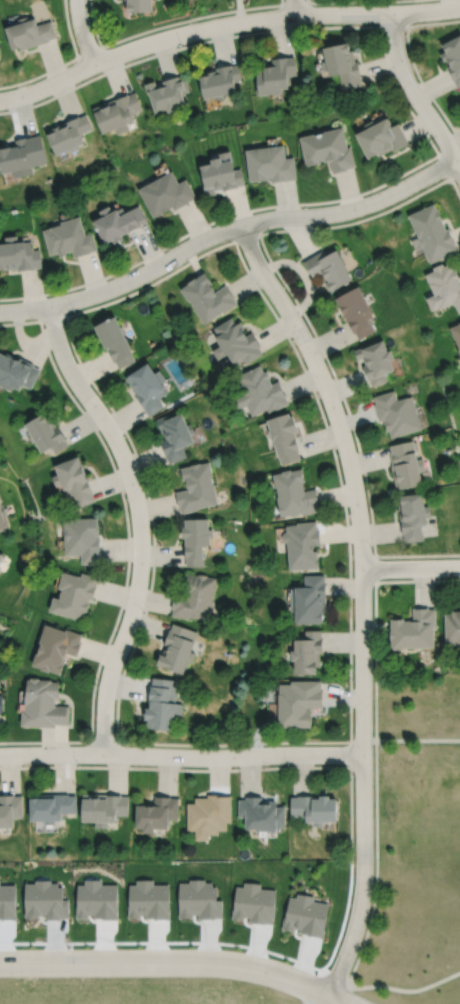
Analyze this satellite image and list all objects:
building: (138, 5)
road: (294, 7)
road: (192, 18)
road: (223, 24)
building: (29, 31)
road: (82, 32)
road: (224, 37)
building: (452, 55)
building: (343, 62)
building: (276, 74)
building: (221, 79)
road: (425, 86)
building: (168, 92)
road: (414, 94)
building: (117, 111)
road: (412, 113)
building: (69, 133)
building: (383, 135)
building: (328, 148)
building: (22, 155)
building: (270, 163)
building: (222, 172)
building: (166, 192)
road: (216, 219)
building: (118, 221)
road: (226, 230)
building: (432, 231)
building: (69, 237)
road: (223, 244)
building: (19, 254)
building: (330, 267)
building: (443, 285)
building: (208, 297)
building: (358, 311)
building: (456, 334)
building: (115, 341)
building: (237, 341)
building: (376, 361)
building: (16, 372)
building: (148, 387)
building: (260, 391)
road: (341, 393)
building: (396, 413)
building: (46, 434)
building: (176, 436)
building: (286, 437)
building: (405, 464)
building: (74, 481)
building: (197, 488)
building: (296, 494)
building: (3, 514)
building: (412, 516)
road: (152, 521)
road: (140, 522)
road: (127, 523)
building: (82, 539)
building: (196, 540)
building: (303, 545)
road: (417, 554)
building: (2, 556)
road: (411, 567)
building: (1, 569)
road: (417, 579)
building: (74, 595)
road: (350, 596)
building: (195, 598)
road: (363, 600)
building: (311, 601)
building: (452, 628)
building: (413, 630)
building: (55, 647)
building: (178, 648)
building: (309, 652)
road: (375, 653)
street lamp: (352, 679)
building: (299, 700)
building: (42, 702)
building: (162, 702)
building: (0, 703)
road: (417, 739)
road: (187, 743)
road: (181, 756)
street lamp: (288, 764)
road: (175, 768)
street lamp: (353, 775)
building: (51, 805)
building: (103, 806)
building: (316, 806)
building: (9, 807)
building: (157, 811)
building: (262, 812)
building: (208, 813)
park: (413, 843)
road: (376, 863)
building: (148, 898)
building: (96, 899)
building: (199, 899)
building: (45, 900)
building: (254, 902)
street lamp: (350, 903)
building: (306, 914)
road: (178, 940)
road: (166, 962)
road: (406, 990)
road: (346, 994)
road: (321, 999)
road: (328, 999)
road: (337, 999)

